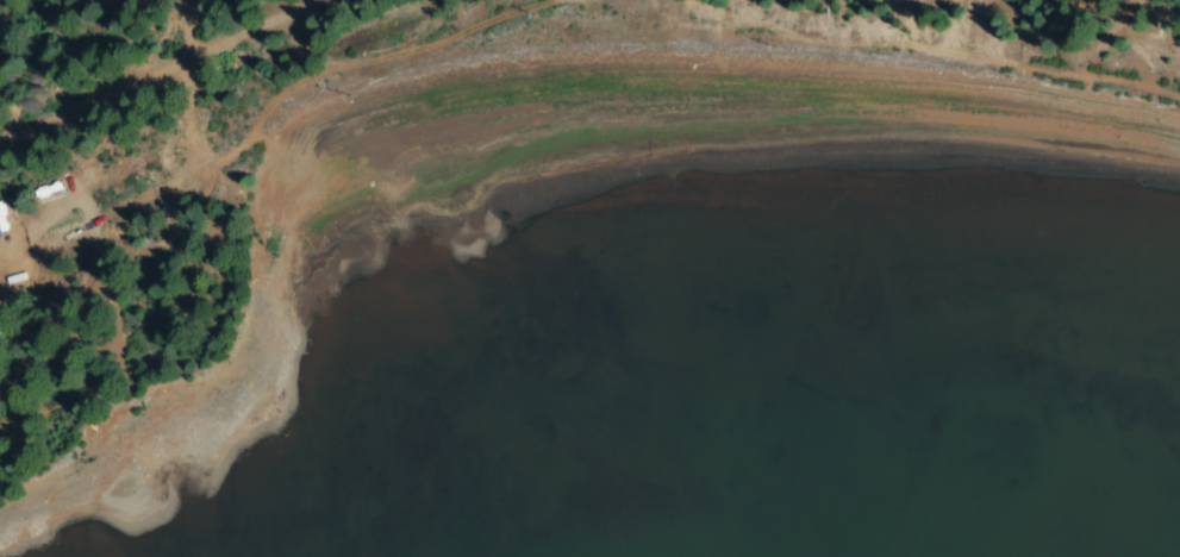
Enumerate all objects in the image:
railway: (150, 68)
road: (208, 125)

